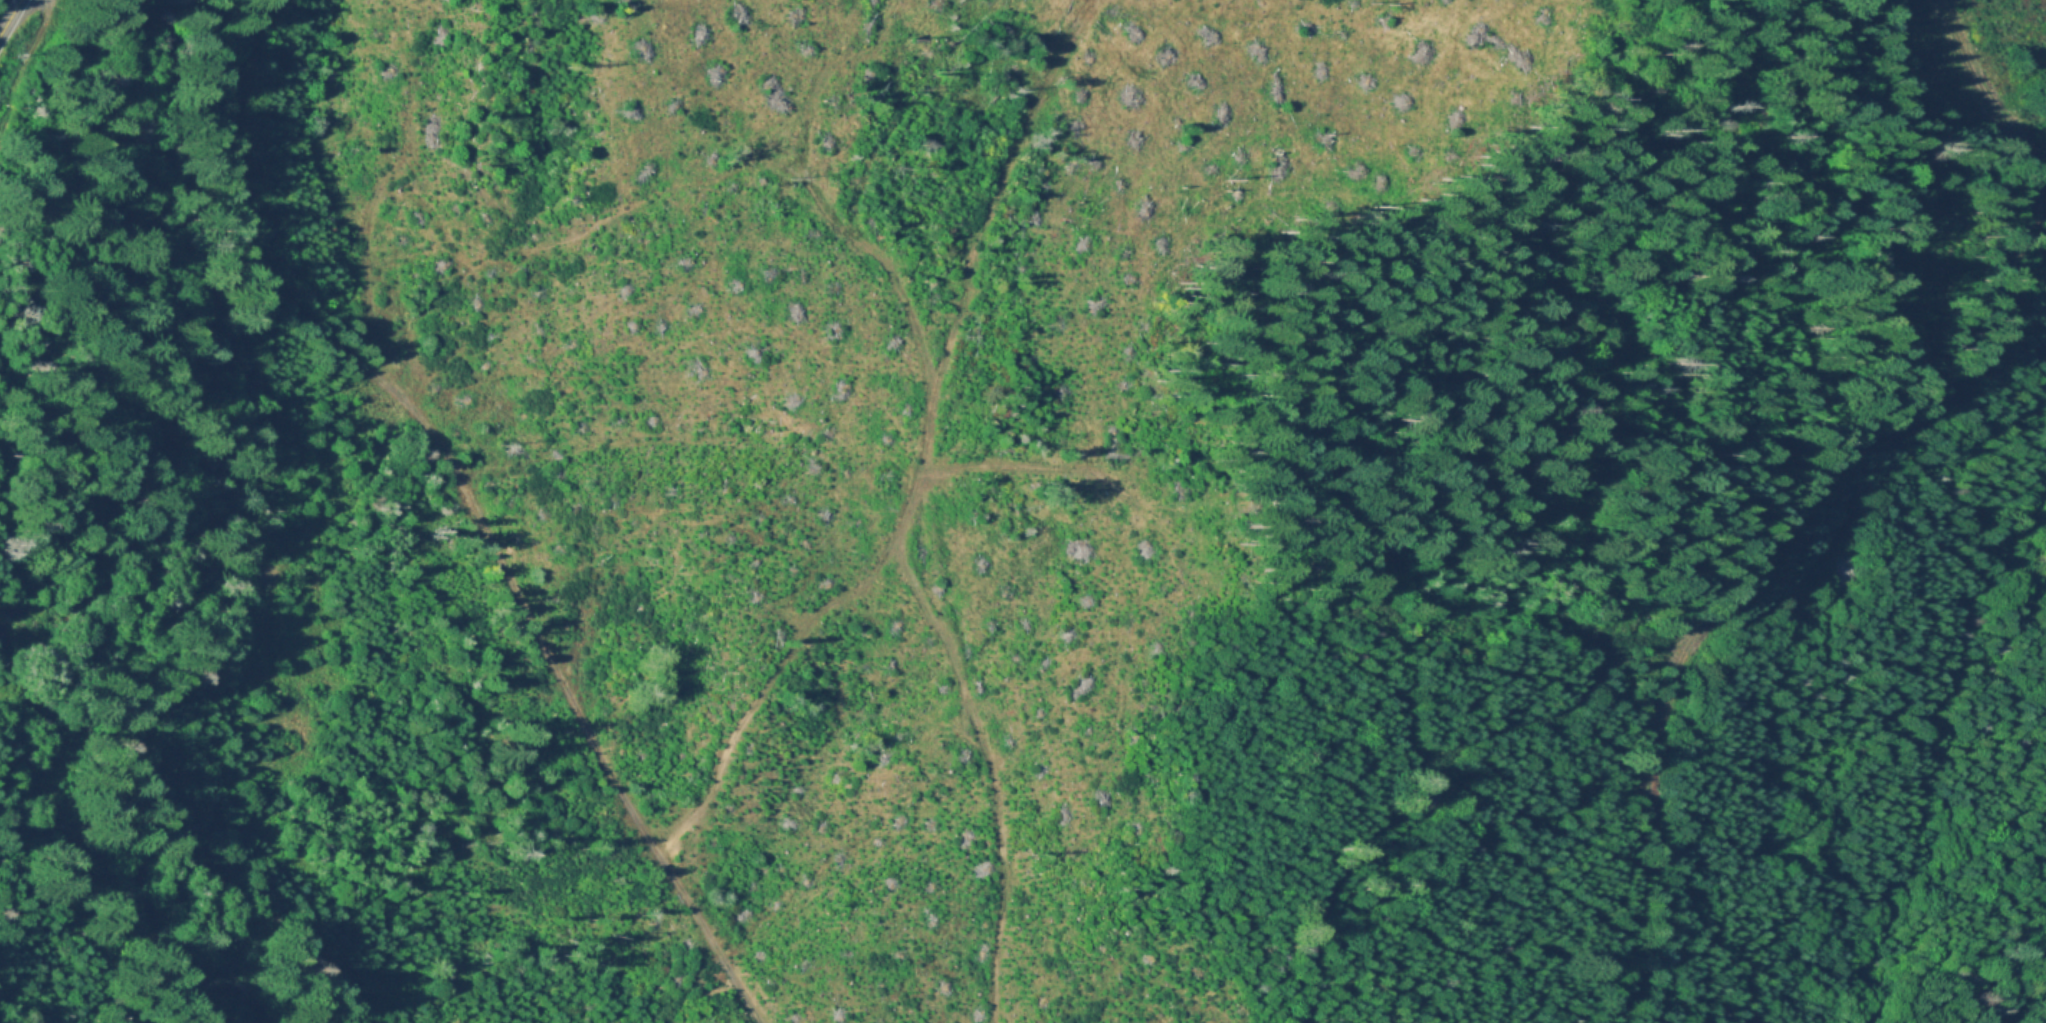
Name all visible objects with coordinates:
road: (11, 19)
road: (24, 59)
road: (1998, 108)
road: (2039, 212)
road: (468, 505)
road: (1734, 577)
road: (1458, 747)
road: (1341, 864)
road: (998, 891)

